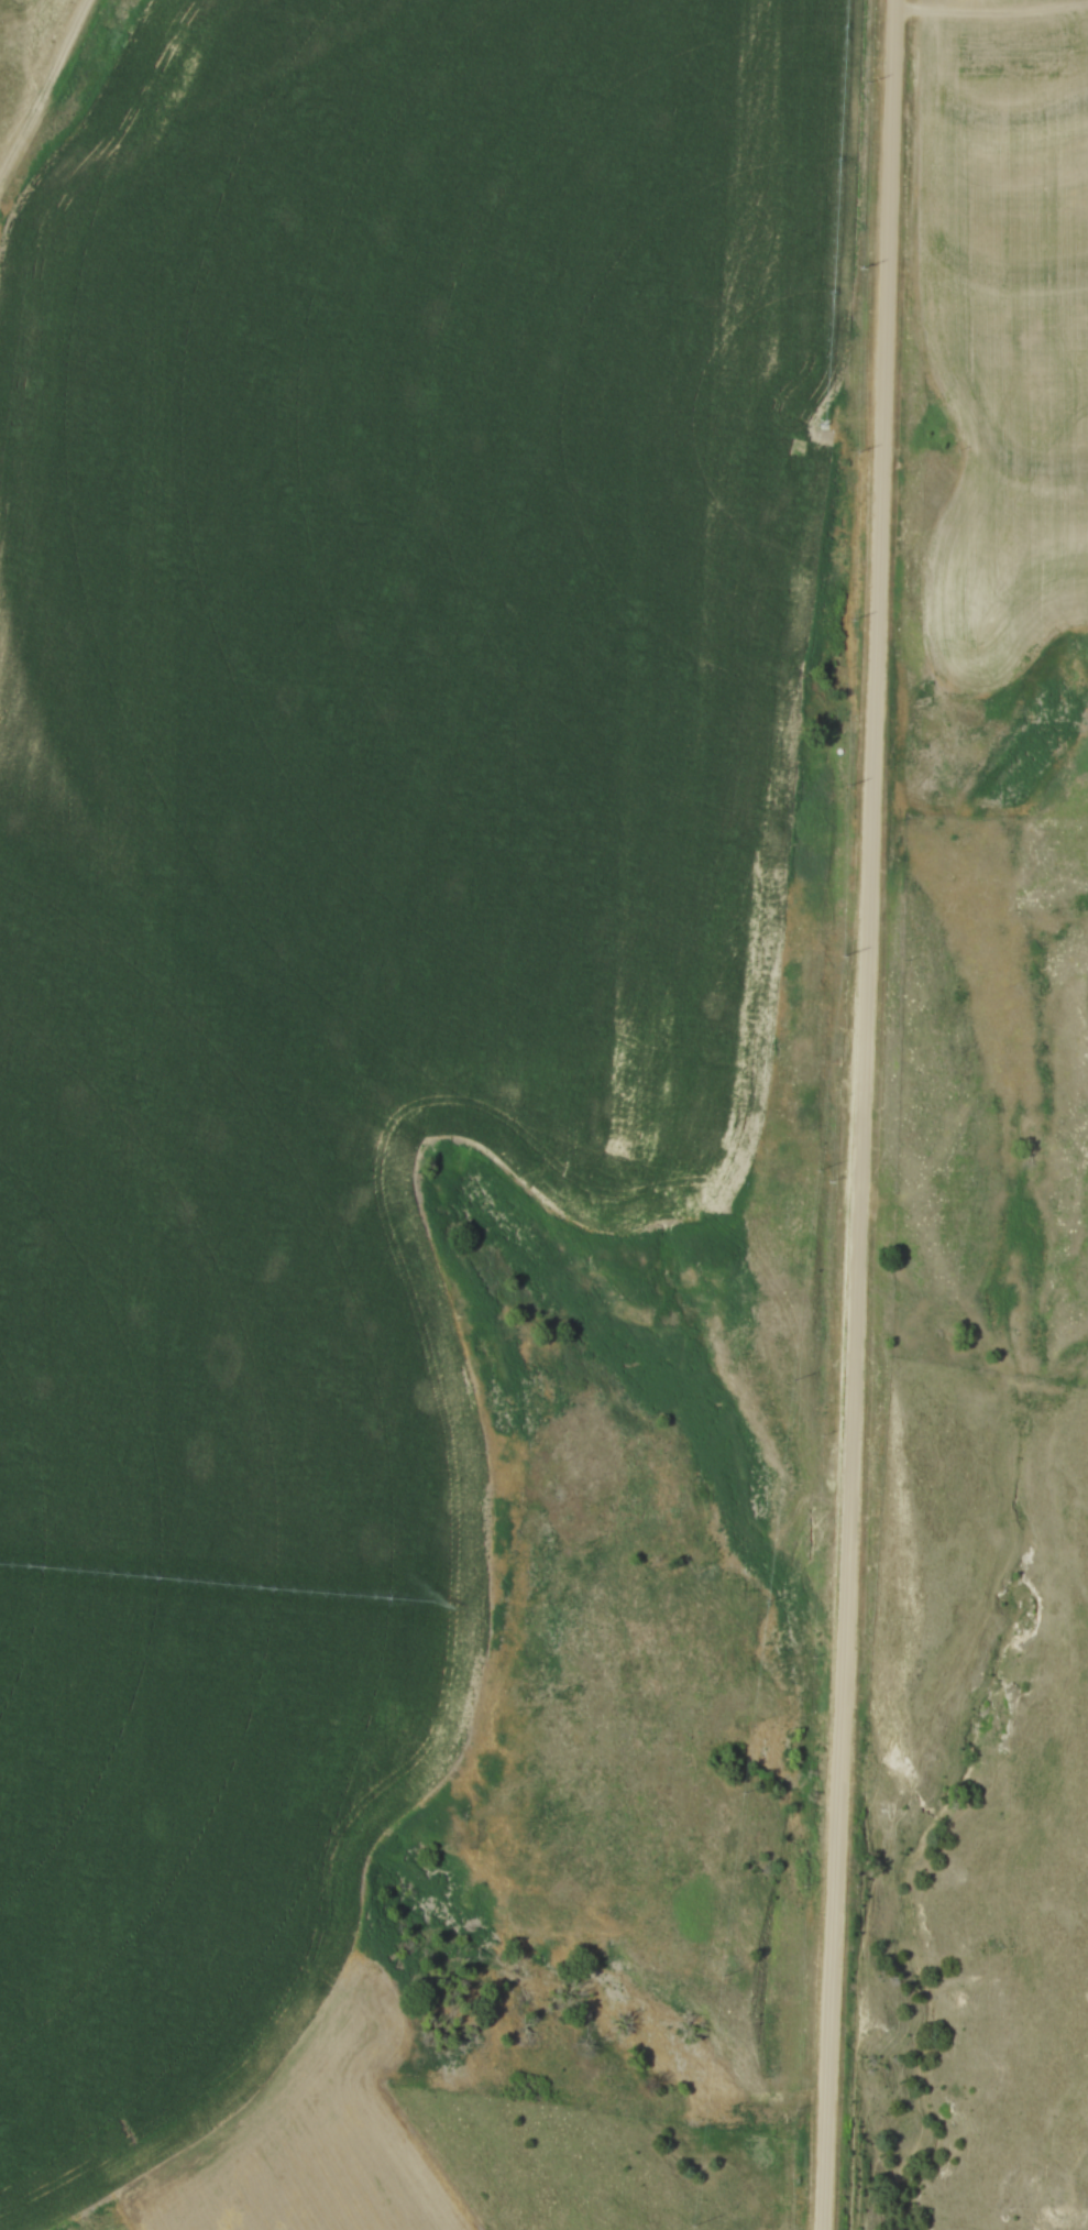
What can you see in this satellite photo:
road: (860, 1115)

